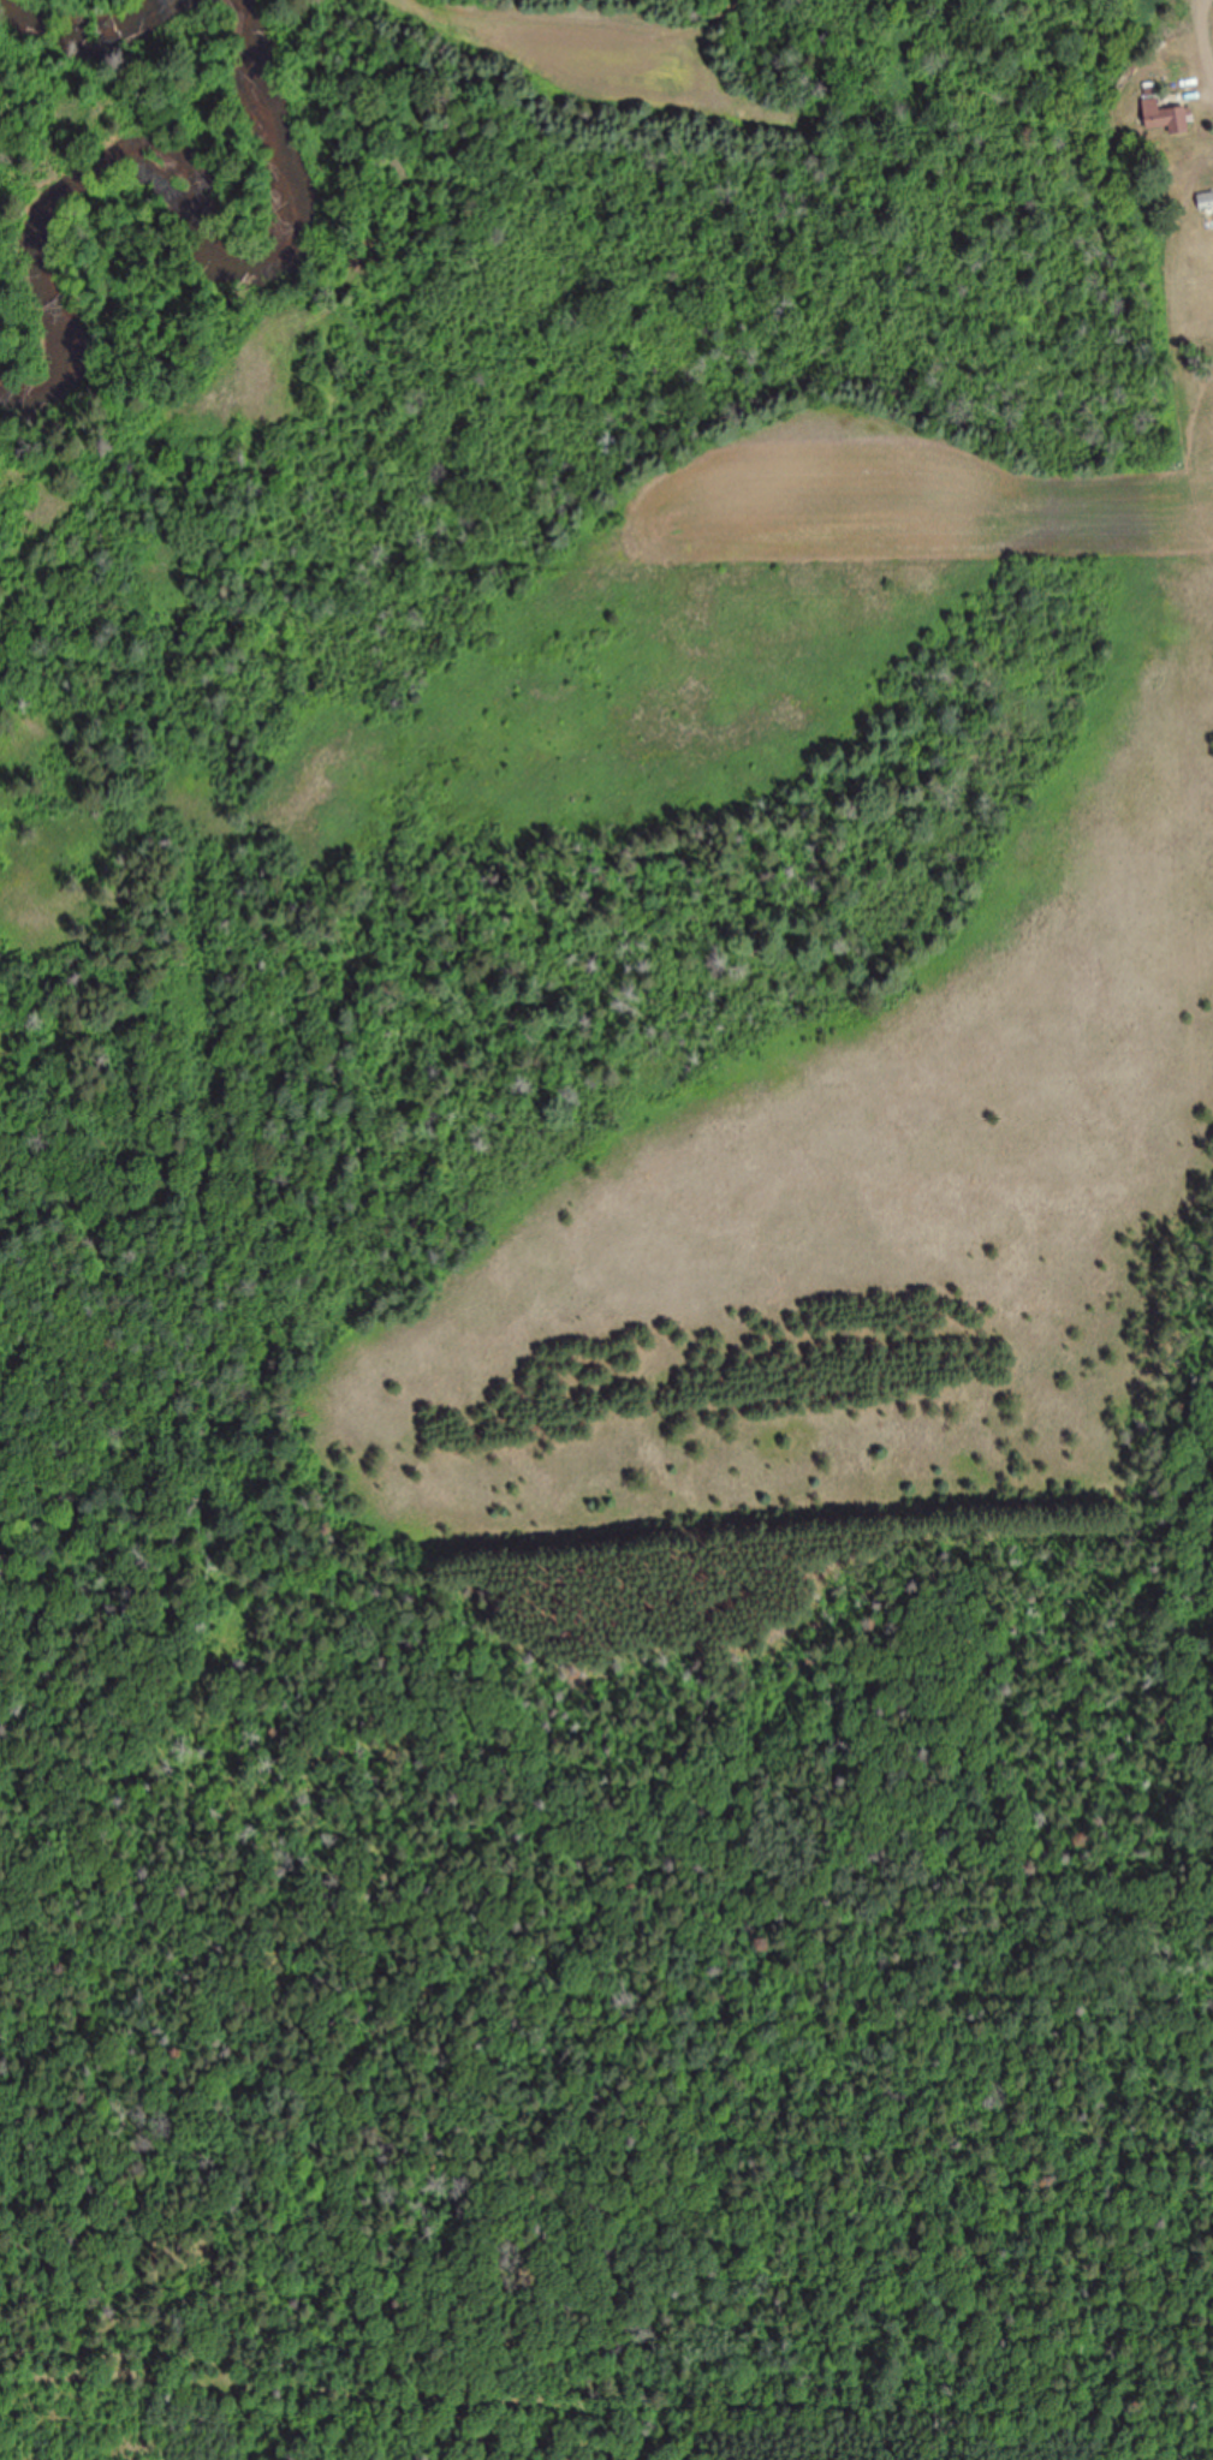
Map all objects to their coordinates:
river: (106, 8)
building: (1169, 118)
river: (179, 123)
building: (1206, 199)

